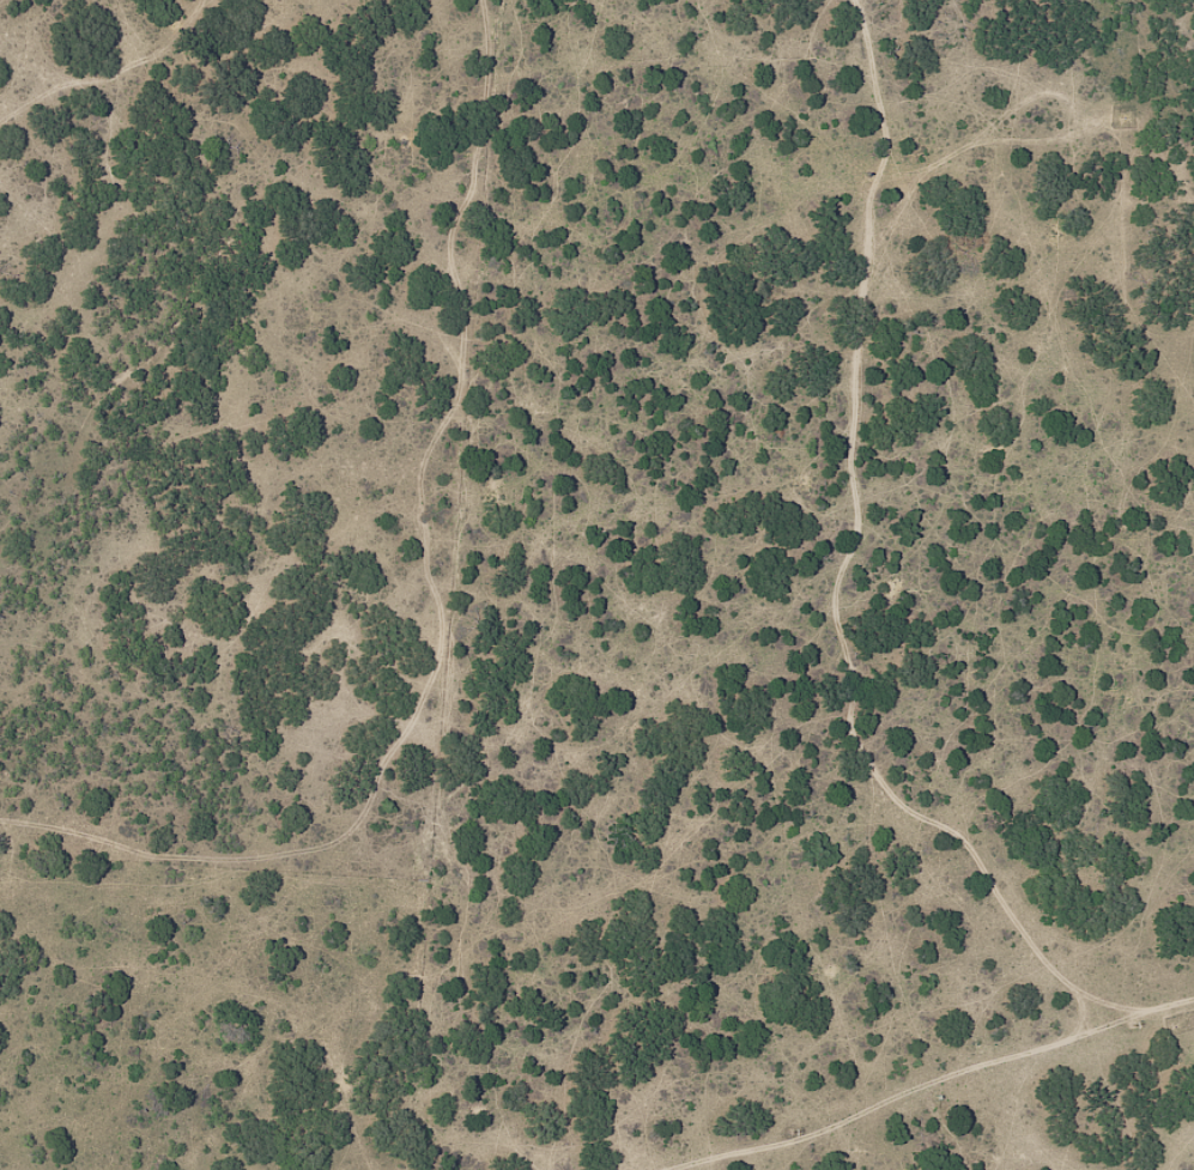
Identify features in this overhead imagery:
road: (120, 83)
power tower: (1134, 1025)
road: (992, 1113)
power tower: (795, 1130)

